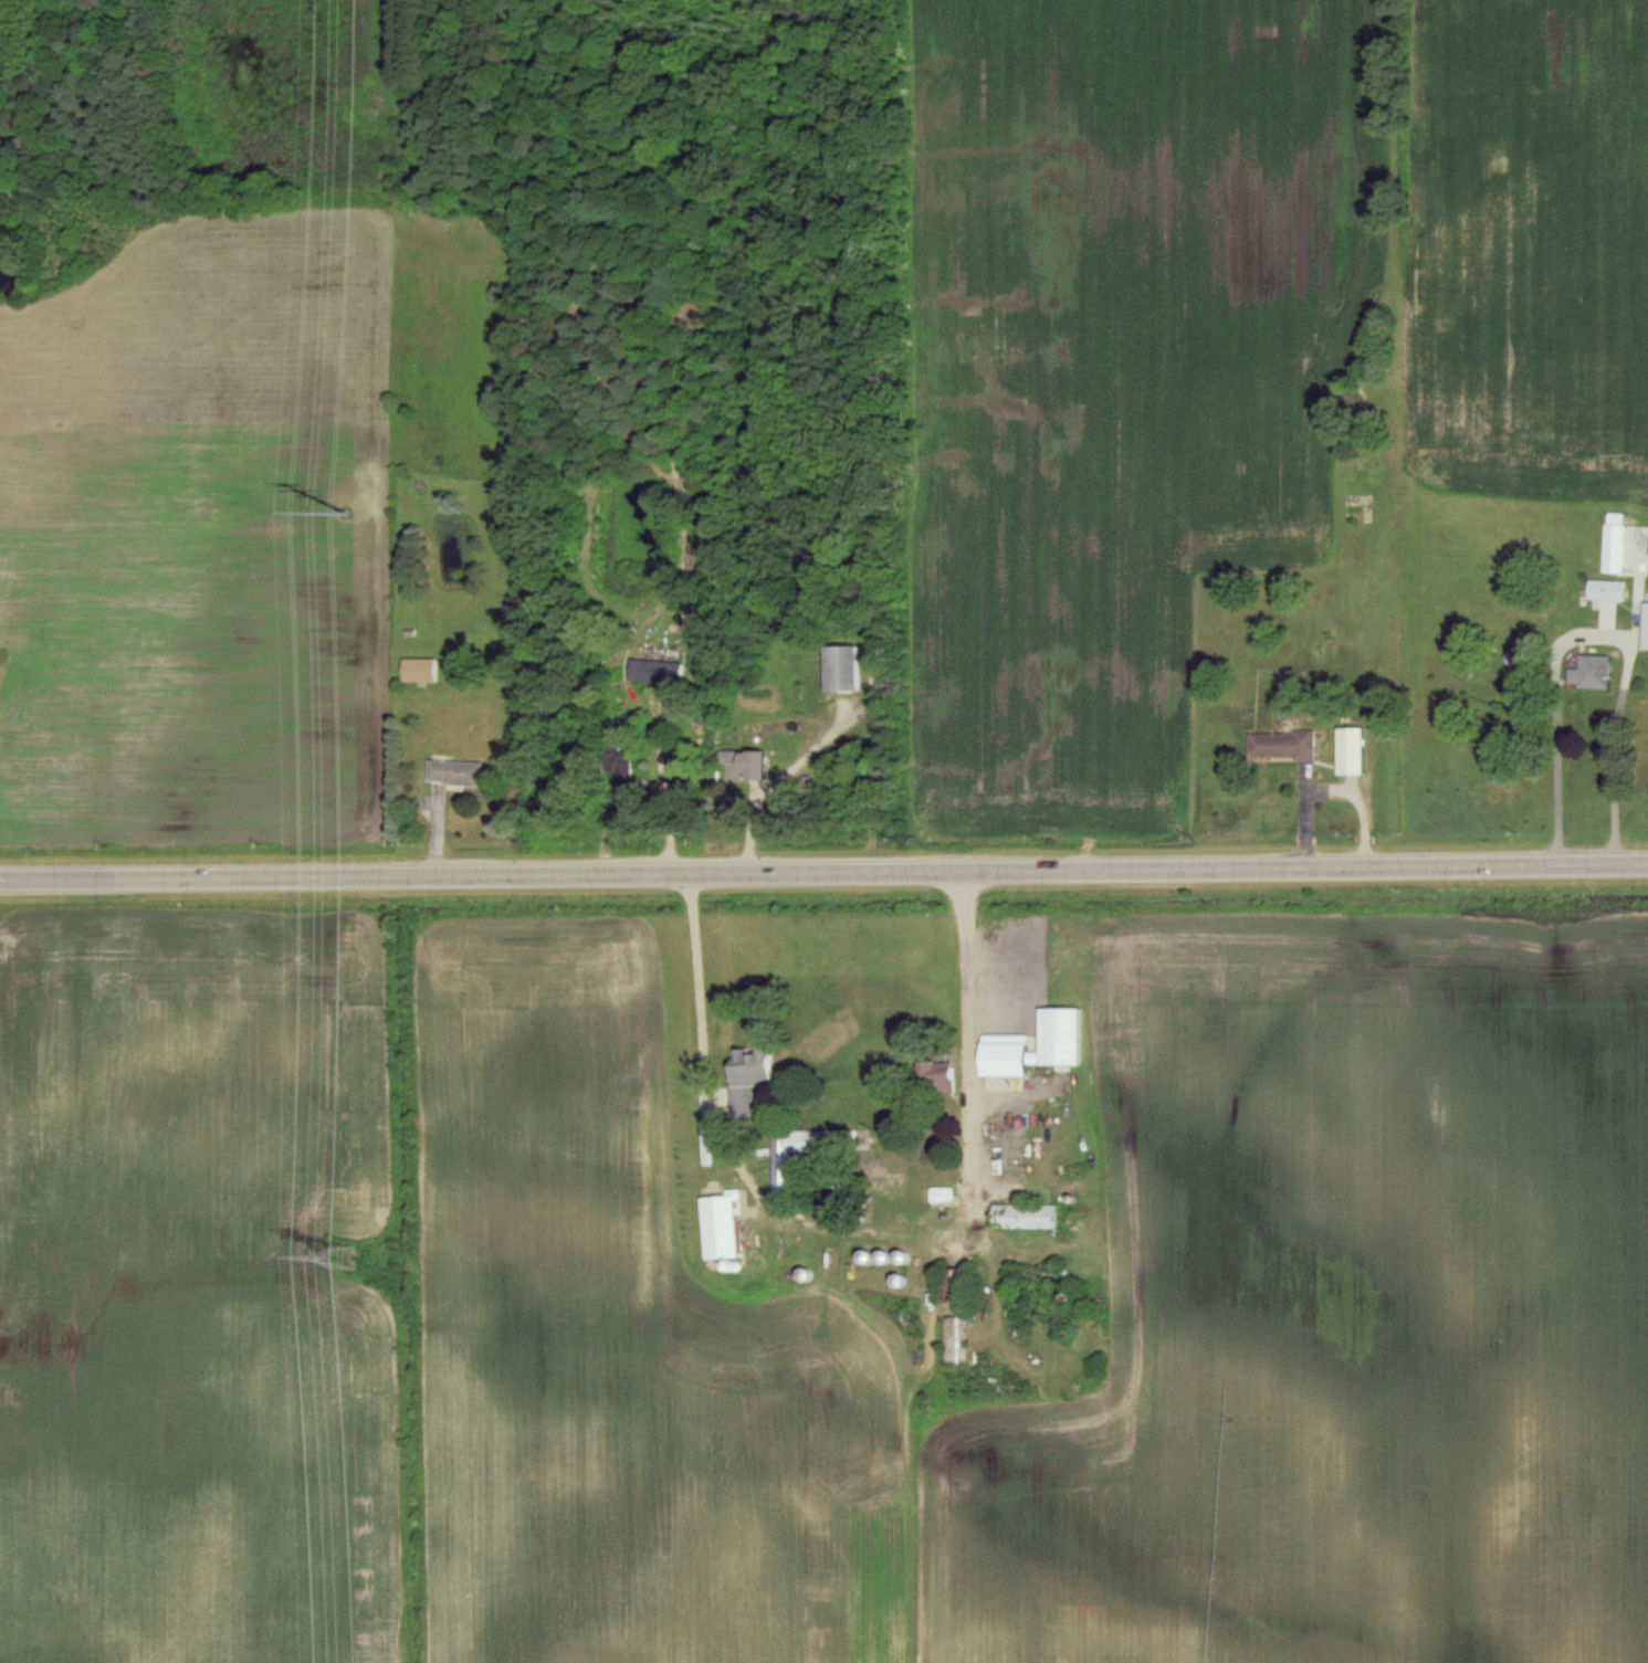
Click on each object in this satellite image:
power tower: (349, 493)
building: (1613, 543)
building: (1605, 589)
building: (1645, 627)
road: (1595, 633)
building: (839, 667)
building: (417, 669)
building: (653, 671)
building: (1589, 672)
building: (1280, 744)
road: (799, 750)
building: (1348, 750)
building: (616, 764)
building: (741, 765)
building: (453, 771)
road: (655, 791)
road: (823, 866)
building: (1001, 1042)
building: (934, 1073)
building: (746, 1078)
building: (787, 1154)
building: (940, 1192)
building: (1022, 1214)
building: (717, 1223)
road: (872, 1232)
power tower: (343, 1256)
building: (948, 1283)
building: (953, 1338)

